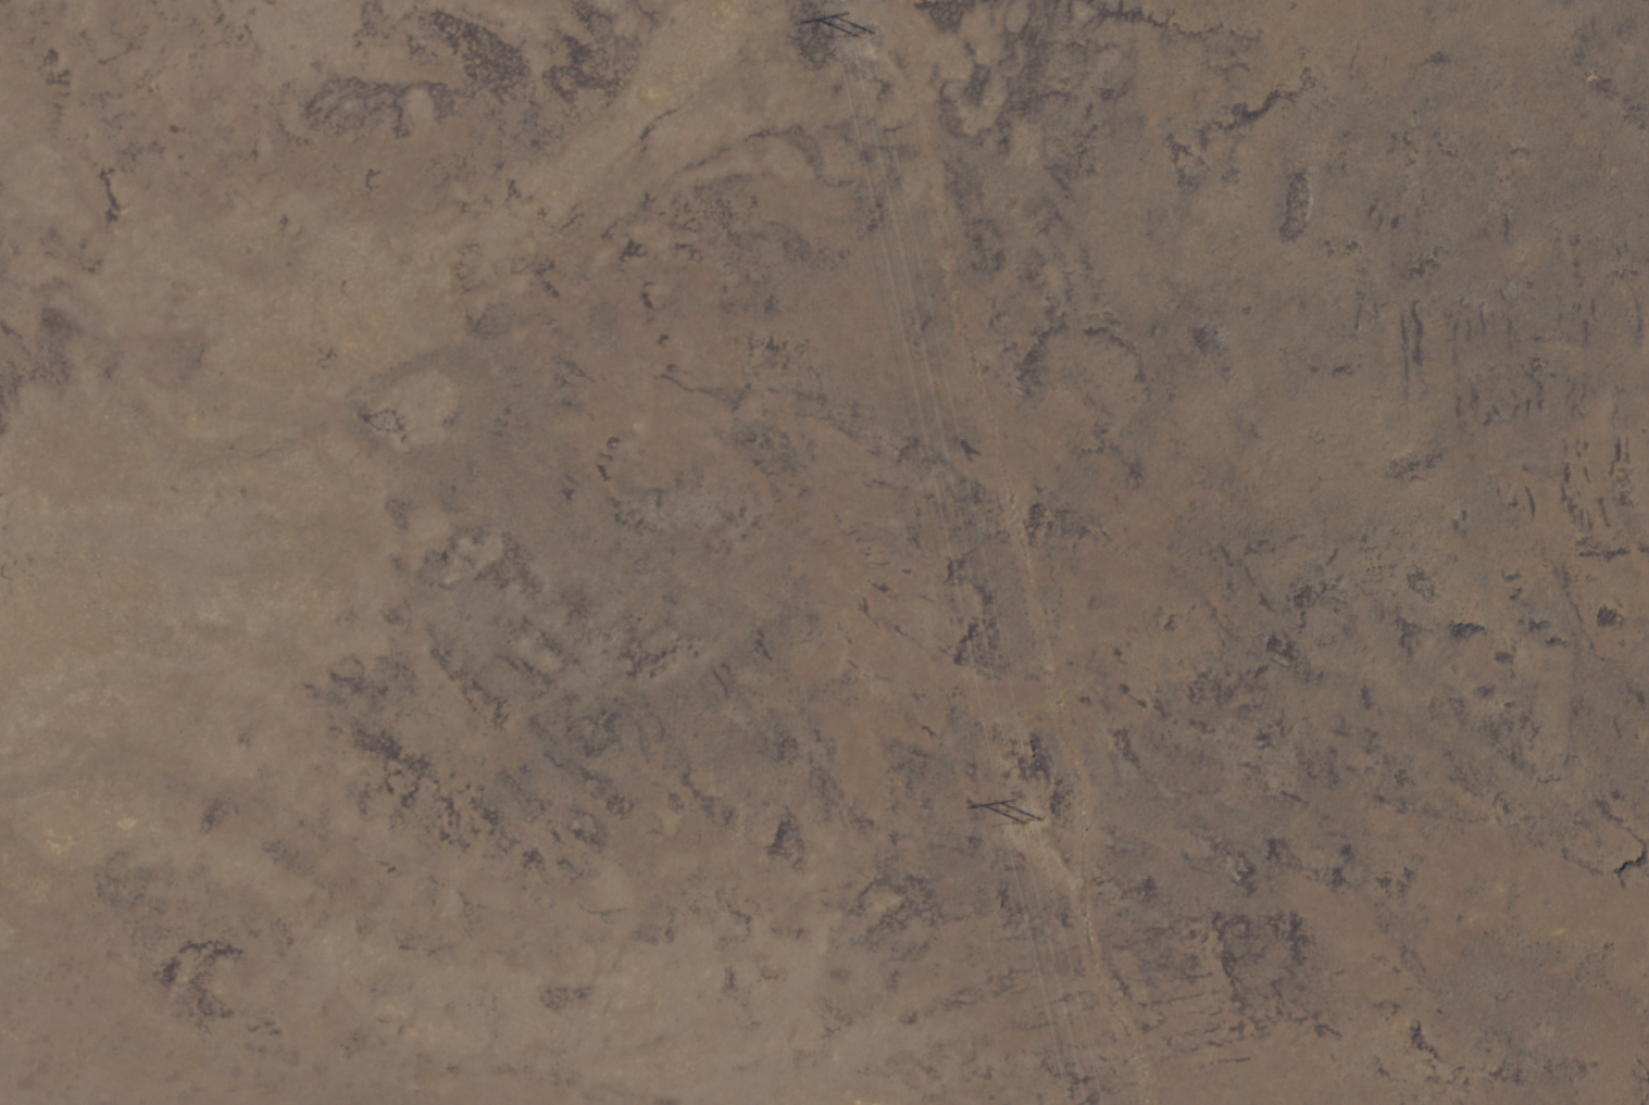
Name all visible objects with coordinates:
power tower: (862, 36)
power tower: (1030, 823)

